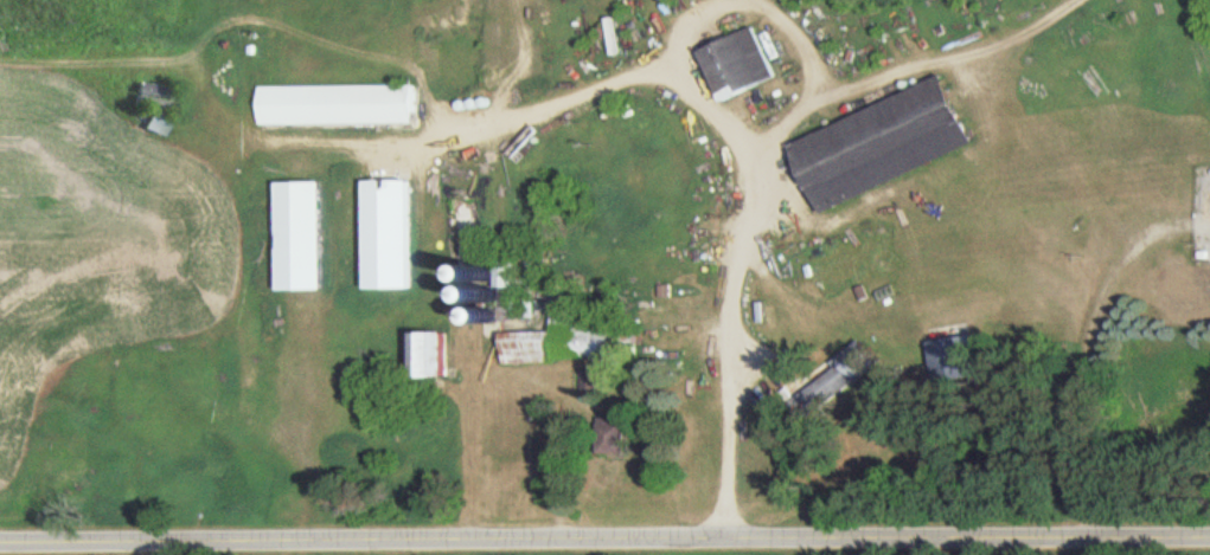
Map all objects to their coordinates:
building: (744, 65)
building: (345, 104)
building: (158, 107)
building: (892, 143)
building: (398, 234)
building: (310, 235)
building: (574, 336)
building: (954, 347)
building: (436, 355)
building: (846, 374)
building: (590, 381)
building: (617, 435)
road: (604, 546)

